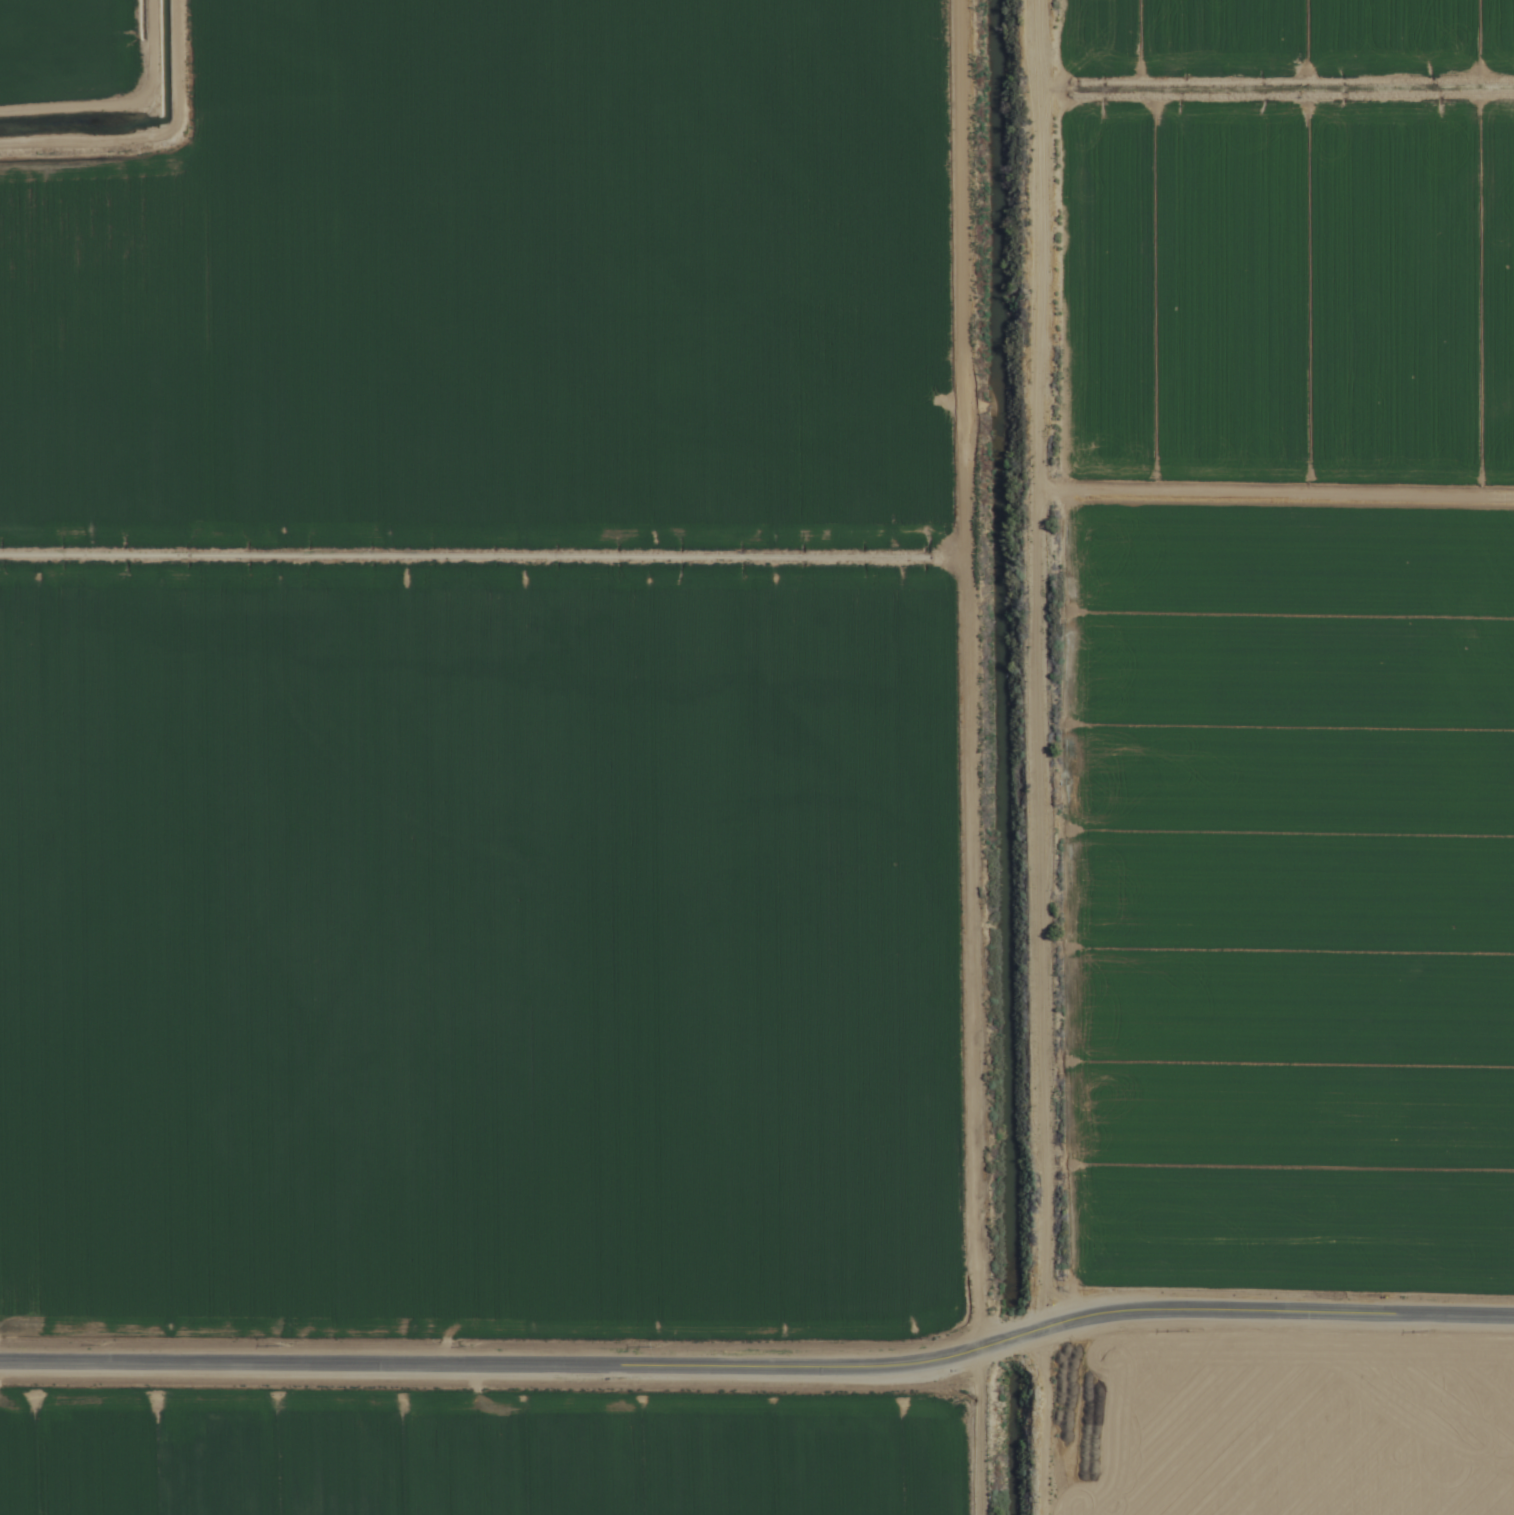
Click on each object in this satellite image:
crop: (757, 757)
road: (760, 1363)

